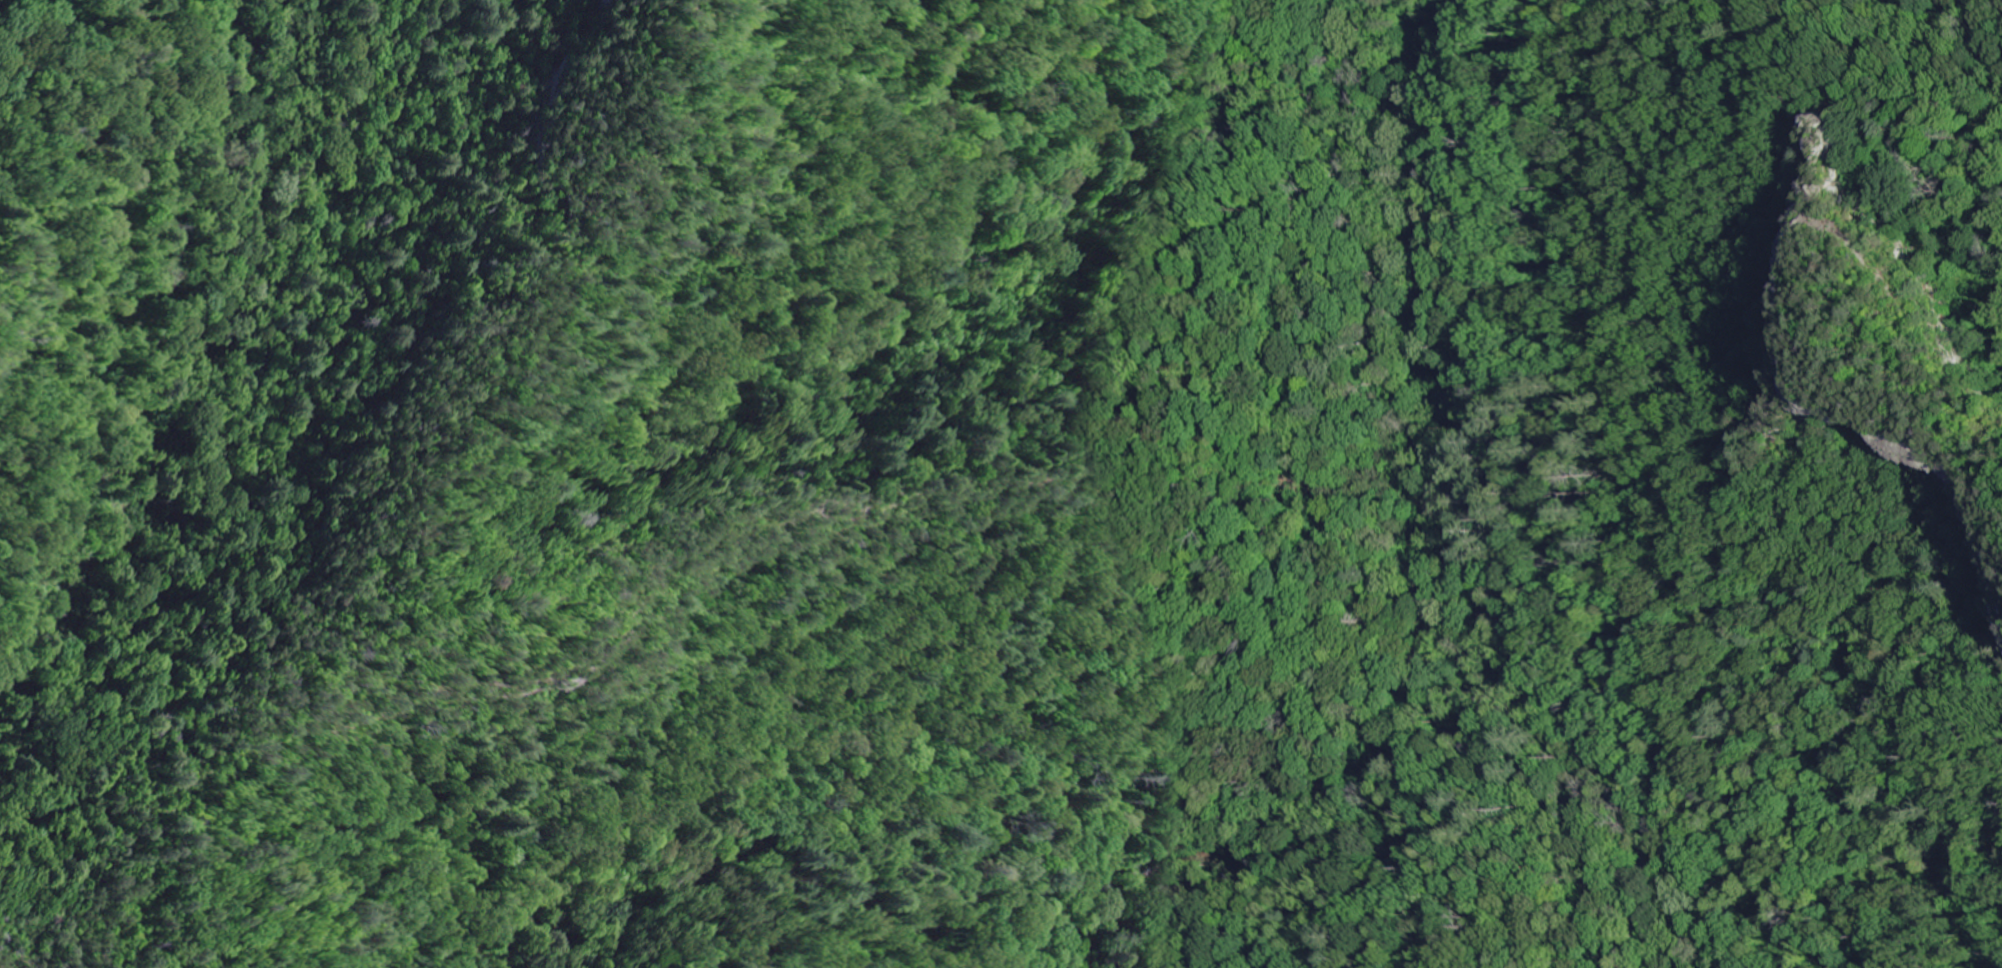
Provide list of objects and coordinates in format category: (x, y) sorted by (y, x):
road: (115, 945)

